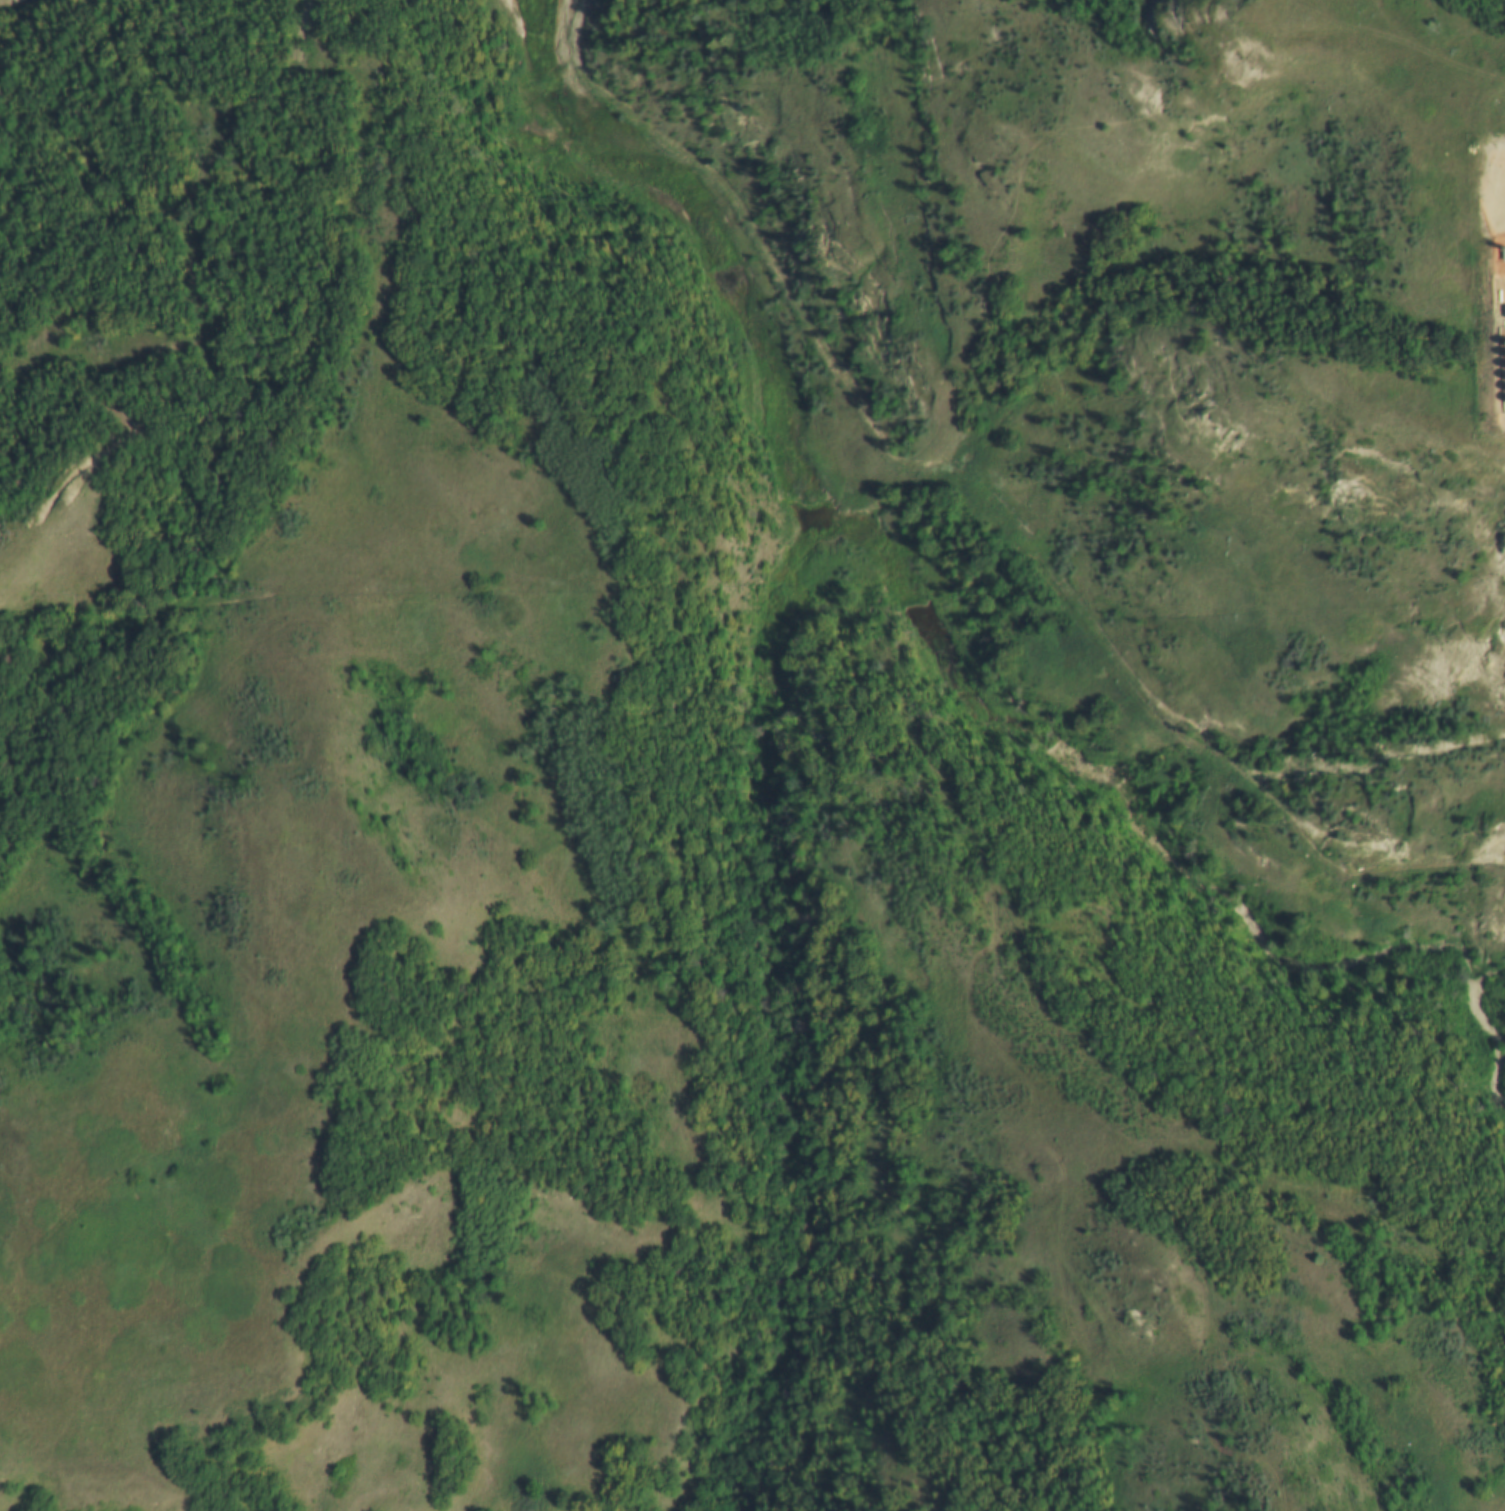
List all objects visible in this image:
building: (1503, 355)
storage tank: (1503, 355)
building: (1504, 368)
storage tank: (1504, 368)
building: (1504, 380)
storage tank: (1504, 380)
building: (1504, 392)
storage tank: (1504, 392)
building: (1504, 405)
storage tank: (1504, 405)
road: (1229, 1361)

